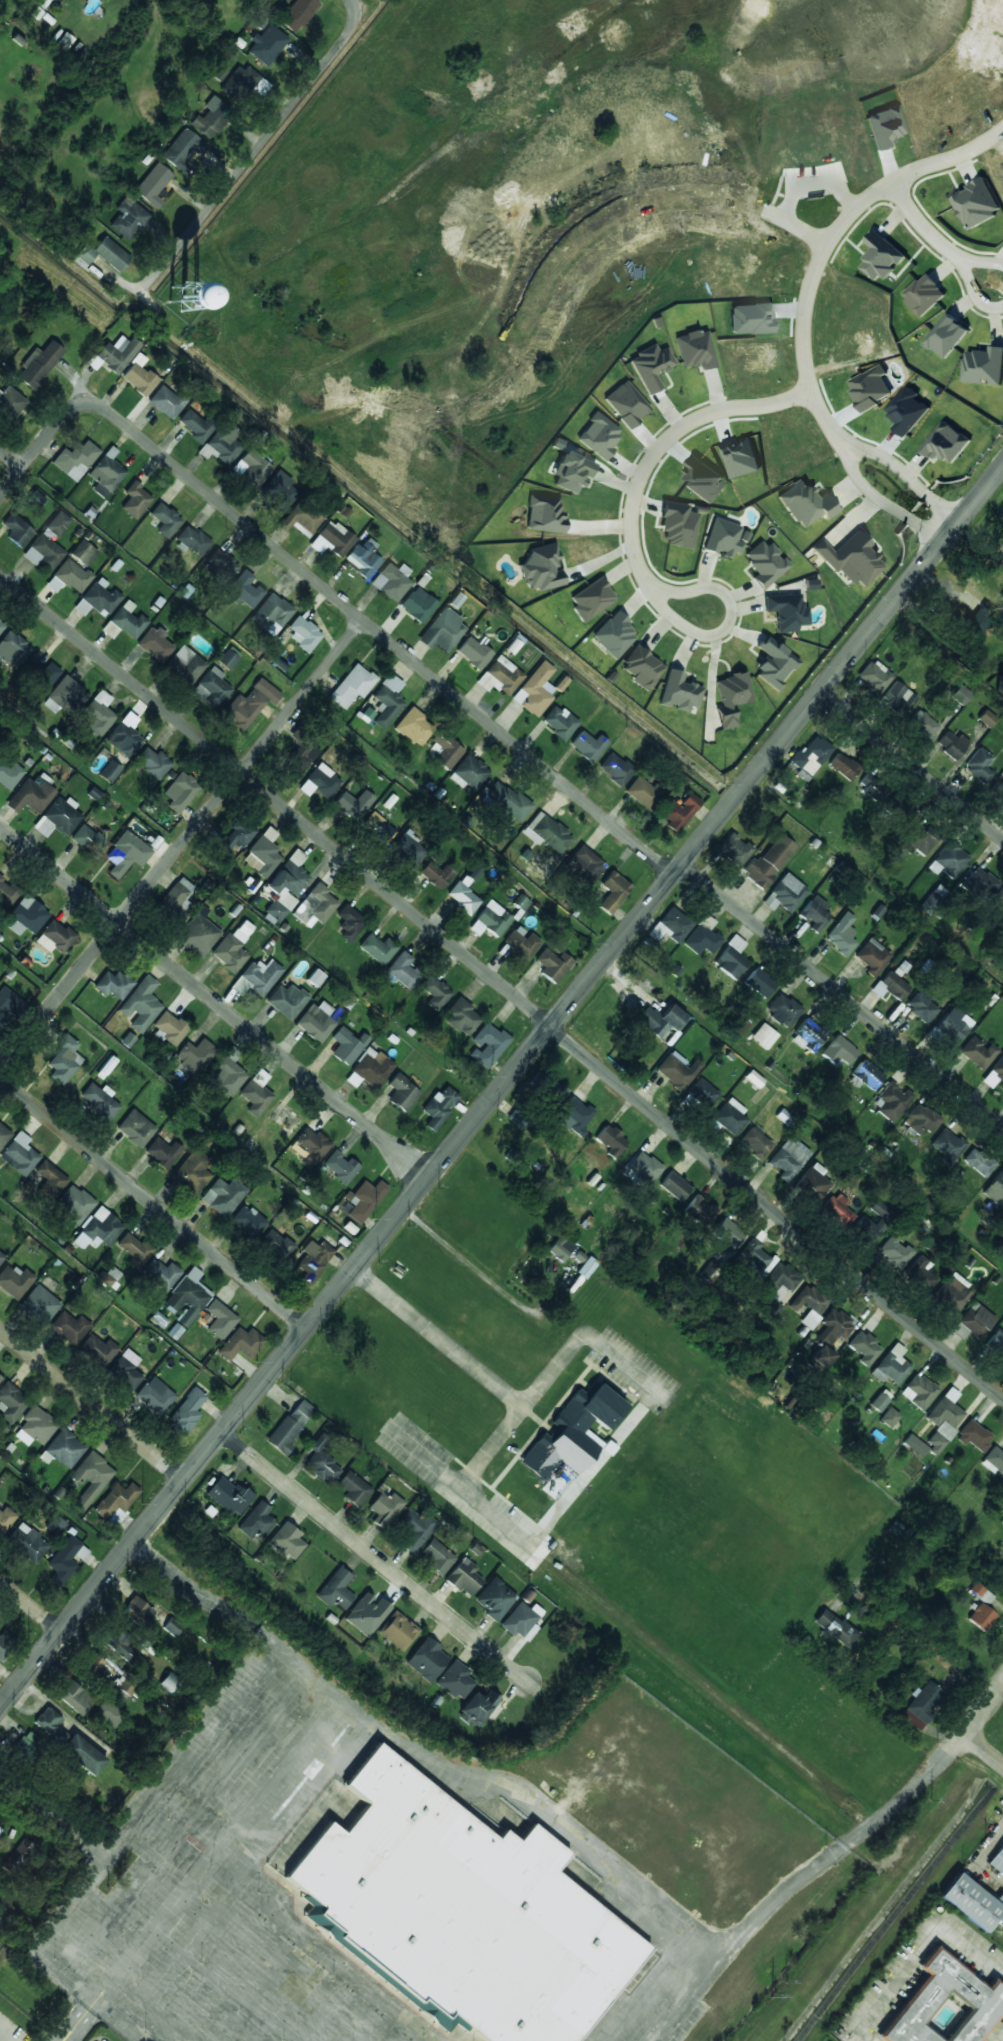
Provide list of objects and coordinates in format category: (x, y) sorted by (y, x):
building: (41, 3)
road: (349, 10)
building: (36, 12)
building: (298, 13)
building: (64, 41)
building: (267, 44)
building: (238, 82)
building: (211, 117)
building: (183, 149)
road: (943, 160)
road: (241, 166)
building: (153, 184)
building: (977, 202)
road: (909, 213)
building: (128, 218)
building: (103, 254)
building: (881, 256)
road: (971, 264)
road: (812, 282)
road: (964, 288)
building: (924, 294)
building: (183, 296)
building: (946, 335)
building: (695, 349)
building: (114, 354)
building: (39, 364)
building: (984, 365)
building: (650, 366)
building: (138, 376)
building: (166, 401)
building: (11, 402)
building: (626, 403)
building: (195, 425)
building: (599, 434)
building: (945, 442)
building: (222, 444)
road: (39, 445)
road: (11, 457)
building: (75, 459)
road: (884, 464)
building: (251, 467)
building: (570, 471)
building: (106, 473)
building: (279, 488)
building: (35, 498)
building: (135, 500)
building: (805, 503)
building: (544, 514)
building: (165, 518)
building: (300, 519)
building: (58, 523)
building: (678, 525)
building: (17, 530)
building: (723, 537)
building: (331, 539)
building: (193, 540)
road: (635, 541)
building: (44, 552)
building: (83, 552)
building: (362, 558)
building: (850, 558)
building: (222, 563)
building: (700, 563)
building: (765, 563)
building: (541, 568)
building: (720, 568)
building: (72, 575)
building: (392, 581)
building: (735, 581)
building: (244, 590)
building: (98, 597)
building: (591, 599)
building: (418, 604)
building: (786, 611)
building: (271, 613)
building: (127, 620)
building: (980, 620)
building: (1, 626)
building: (442, 630)
building: (303, 632)
building: (614, 635)
building: (154, 644)
building: (12, 649)
building: (473, 652)
building: (228, 657)
building: (774, 663)
building: (185, 664)
building: (642, 668)
building: (46, 675)
building: (500, 676)
building: (874, 676)
building: (352, 685)
building: (212, 687)
building: (535, 689)
building: (679, 691)
building: (65, 695)
building: (961, 695)
building: (731, 697)
building: (898, 698)
building: (250, 703)
building: (383, 703)
building: (96, 714)
building: (986, 718)
building: (559, 721)
building: (923, 724)
building: (414, 727)
building: (123, 739)
building: (952, 744)
building: (588, 745)
building: (445, 750)
building: (811, 754)
building: (303, 759)
building: (153, 762)
road: (545, 764)
building: (979, 765)
building: (843, 766)
building: (615, 768)
building: (109, 771)
building: (471, 771)
road: (909, 772)
building: (8, 773)
building: (323, 780)
building: (872, 786)
building: (999, 788)
building: (180, 791)
building: (643, 792)
building: (32, 794)
building: (505, 800)
building: (354, 803)
building: (680, 811)
building: (58, 817)
building: (379, 828)
building: (547, 832)
building: (237, 834)
building: (919, 839)
building: (88, 840)
road: (181, 844)
building: (408, 848)
building: (734, 849)
building: (263, 853)
building: (124, 854)
building: (948, 859)
building: (768, 861)
building: (584, 865)
building: (436, 874)
building: (979, 881)
building: (286, 885)
building: (465, 891)
building: (613, 891)
building: (7, 892)
building: (785, 893)
building: (176, 895)
building: (929, 902)
building: (315, 906)
building: (814, 912)
building: (26, 916)
building: (491, 920)
building: (349, 922)
building: (675, 924)
building: (841, 934)
building: (198, 935)
building: (55, 937)
building: (701, 940)
building: (522, 941)
building: (232, 947)
building: (378, 948)
building: (872, 956)
building: (731, 958)
building: (553, 964)
building: (404, 970)
building: (256, 977)
building: (314, 977)
building: (894, 981)
building: (759, 982)
building: (114, 984)
road: (501, 984)
building: (435, 991)
building: (286, 1000)
road: (214, 1001)
building: (141, 1005)
building: (8, 1006)
building: (922, 1007)
building: (782, 1010)
building: (462, 1017)
building: (317, 1020)
building: (660, 1020)
building: (740, 1024)
building: (953, 1024)
building: (170, 1026)
building: (810, 1034)
building: (763, 1035)
building: (347, 1045)
building: (487, 1045)
building: (839, 1051)
building: (978, 1052)
building: (195, 1055)
building: (64, 1060)
building: (369, 1068)
building: (677, 1069)
building: (867, 1074)
building: (995, 1074)
building: (227, 1075)
building: (753, 1078)
road: (501, 1084)
building: (552, 1090)
building: (402, 1092)
building: (256, 1093)
building: (702, 1093)
building: (99, 1100)
building: (892, 1101)
building: (439, 1107)
building: (575, 1112)
building: (782, 1116)
building: (728, 1117)
building: (518, 1118)
building: (921, 1120)
building: (136, 1128)
building: (3, 1135)
building: (611, 1140)
building: (755, 1142)
building: (946, 1143)
building: (310, 1144)
building: (163, 1152)
building: (19, 1154)
building: (788, 1158)
building: (978, 1161)
building: (339, 1165)
building: (644, 1167)
building: (192, 1171)
building: (49, 1180)
building: (812, 1184)
building: (674, 1185)
building: (995, 1189)
building: (223, 1195)
building: (364, 1199)
road: (152, 1202)
building: (73, 1204)
building: (699, 1210)
building: (838, 1210)
building: (247, 1221)
building: (102, 1227)
building: (868, 1230)
building: (727, 1232)
building: (275, 1245)
building: (134, 1248)
building: (560, 1248)
building: (894, 1251)
building: (753, 1253)
building: (1, 1257)
road: (463, 1258)
building: (313, 1261)
building: (586, 1267)
building: (161, 1273)
building: (919, 1274)
building: (15, 1281)
building: (777, 1286)
building: (950, 1295)
building: (186, 1297)
building: (40, 1304)
building: (807, 1305)
building: (219, 1319)
building: (973, 1321)
building: (69, 1326)
building: (833, 1327)
building: (175, 1331)
building: (996, 1343)
building: (240, 1344)
building: (864, 1348)
building: (97, 1349)
building: (822, 1356)
building: (891, 1365)
building: (125, 1369)
building: (0, 1376)
building: (0, 1378)
building: (918, 1391)
building: (154, 1395)
building: (11, 1401)
building: (878, 1402)
road: (91, 1403)
building: (186, 1411)
building: (888, 1417)
building: (942, 1423)
building: (37, 1424)
building: (288, 1426)
building: (572, 1432)
building: (975, 1435)
building: (64, 1448)
building: (994, 1458)
building: (321, 1461)
building: (89, 1478)
building: (353, 1488)
building: (228, 1494)
building: (116, 1501)
building: (384, 1508)
building: (5, 1518)
building: (256, 1520)
building: (55, 1525)
building: (414, 1529)
road: (524, 1536)
building: (287, 1540)
building: (27, 1542)
road: (374, 1556)
building: (436, 1556)
building: (65, 1559)
building: (464, 1578)
building: (335, 1588)
building: (981, 1593)
building: (495, 1598)
road: (30, 1605)
road: (970, 1607)
building: (366, 1612)
building: (150, 1615)
building: (981, 1616)
building: (518, 1619)
building: (836, 1629)
building: (397, 1630)
building: (116, 1640)
building: (4, 1648)
building: (426, 1658)
building: (135, 1660)
building: (93, 1666)
building: (455, 1680)
building: (172, 1684)
building: (126, 1686)
building: (75, 1696)
building: (925, 1701)
building: (477, 1706)
road: (984, 1710)
building: (108, 1712)
building: (49, 1725)
building: (27, 1748)
road: (984, 1749)
building: (82, 1754)
road: (562, 1826)
building: (0, 1830)
building: (999, 1852)
building: (20, 1856)
building: (969, 1902)
building: (460, 1911)
building: (945, 2005)

